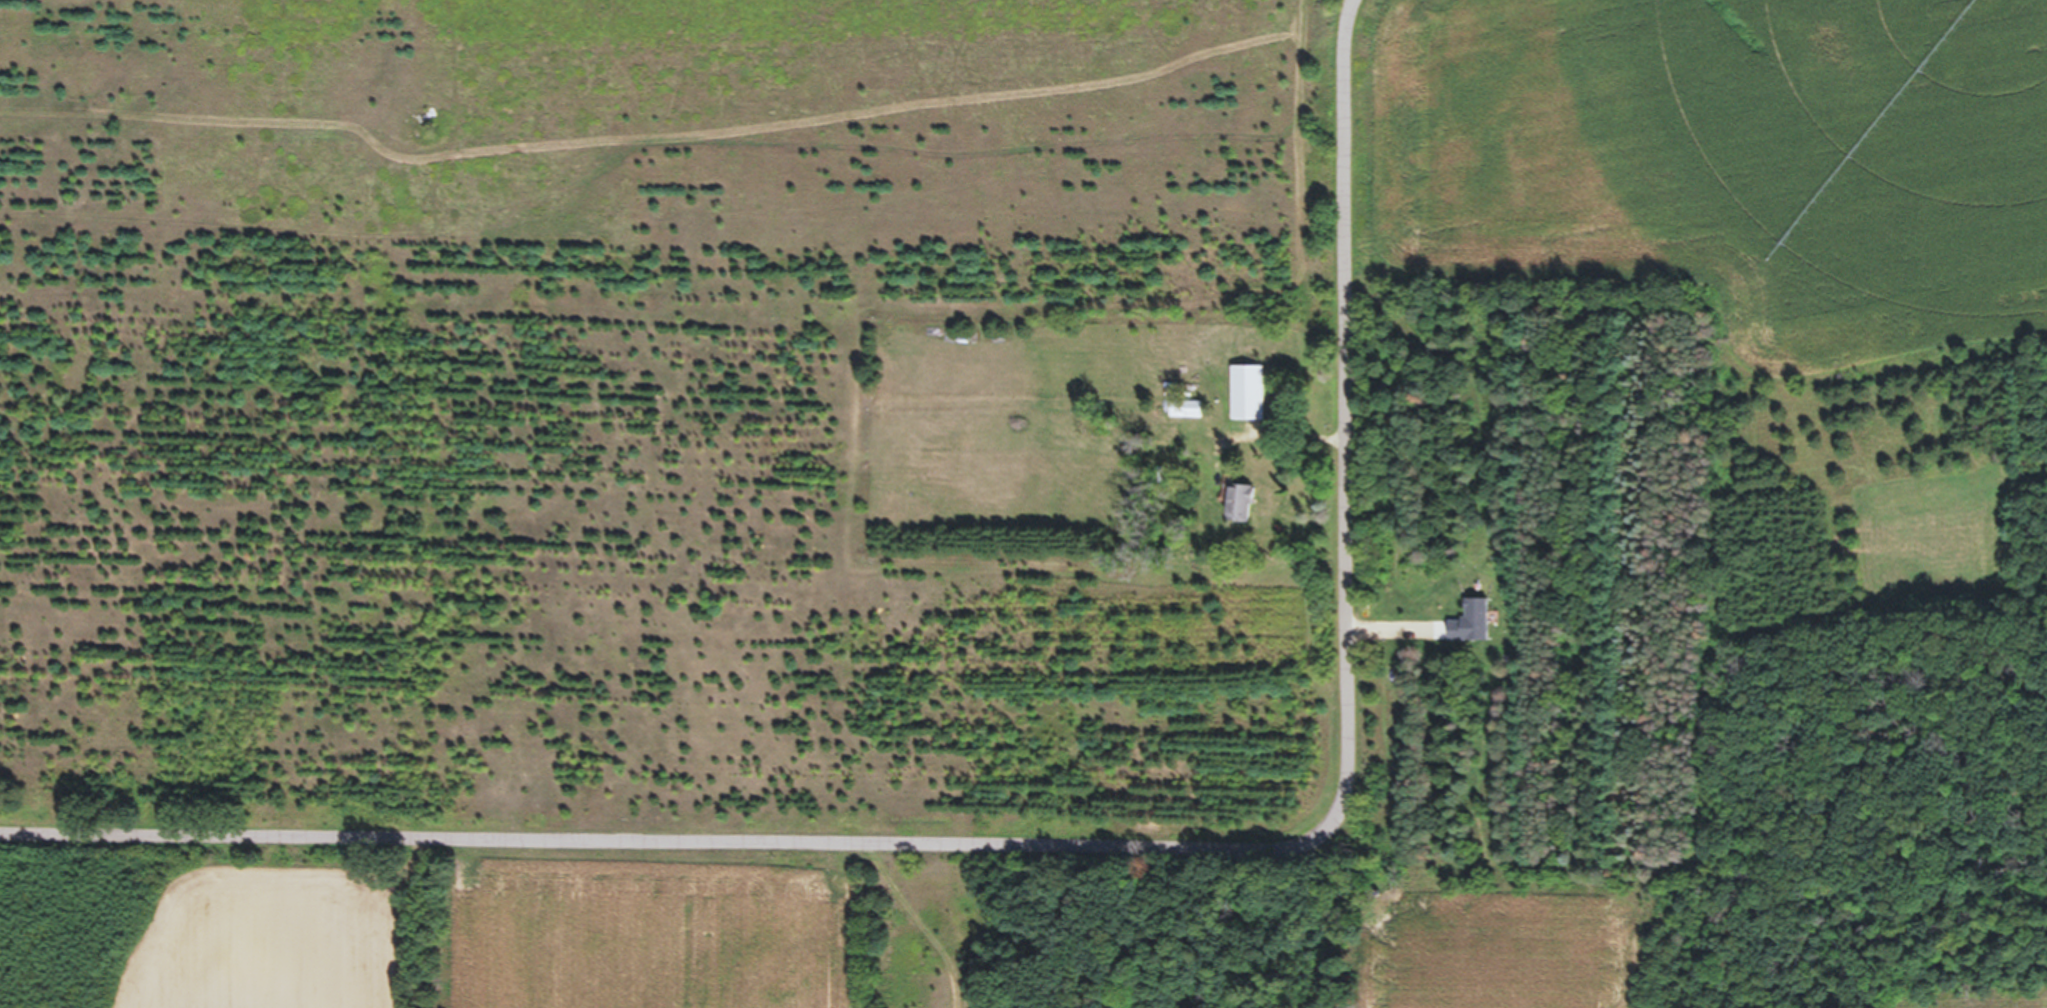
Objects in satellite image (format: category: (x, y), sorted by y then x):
building: (1247, 401)
building: (1186, 418)
building: (1238, 512)
road: (1092, 858)

